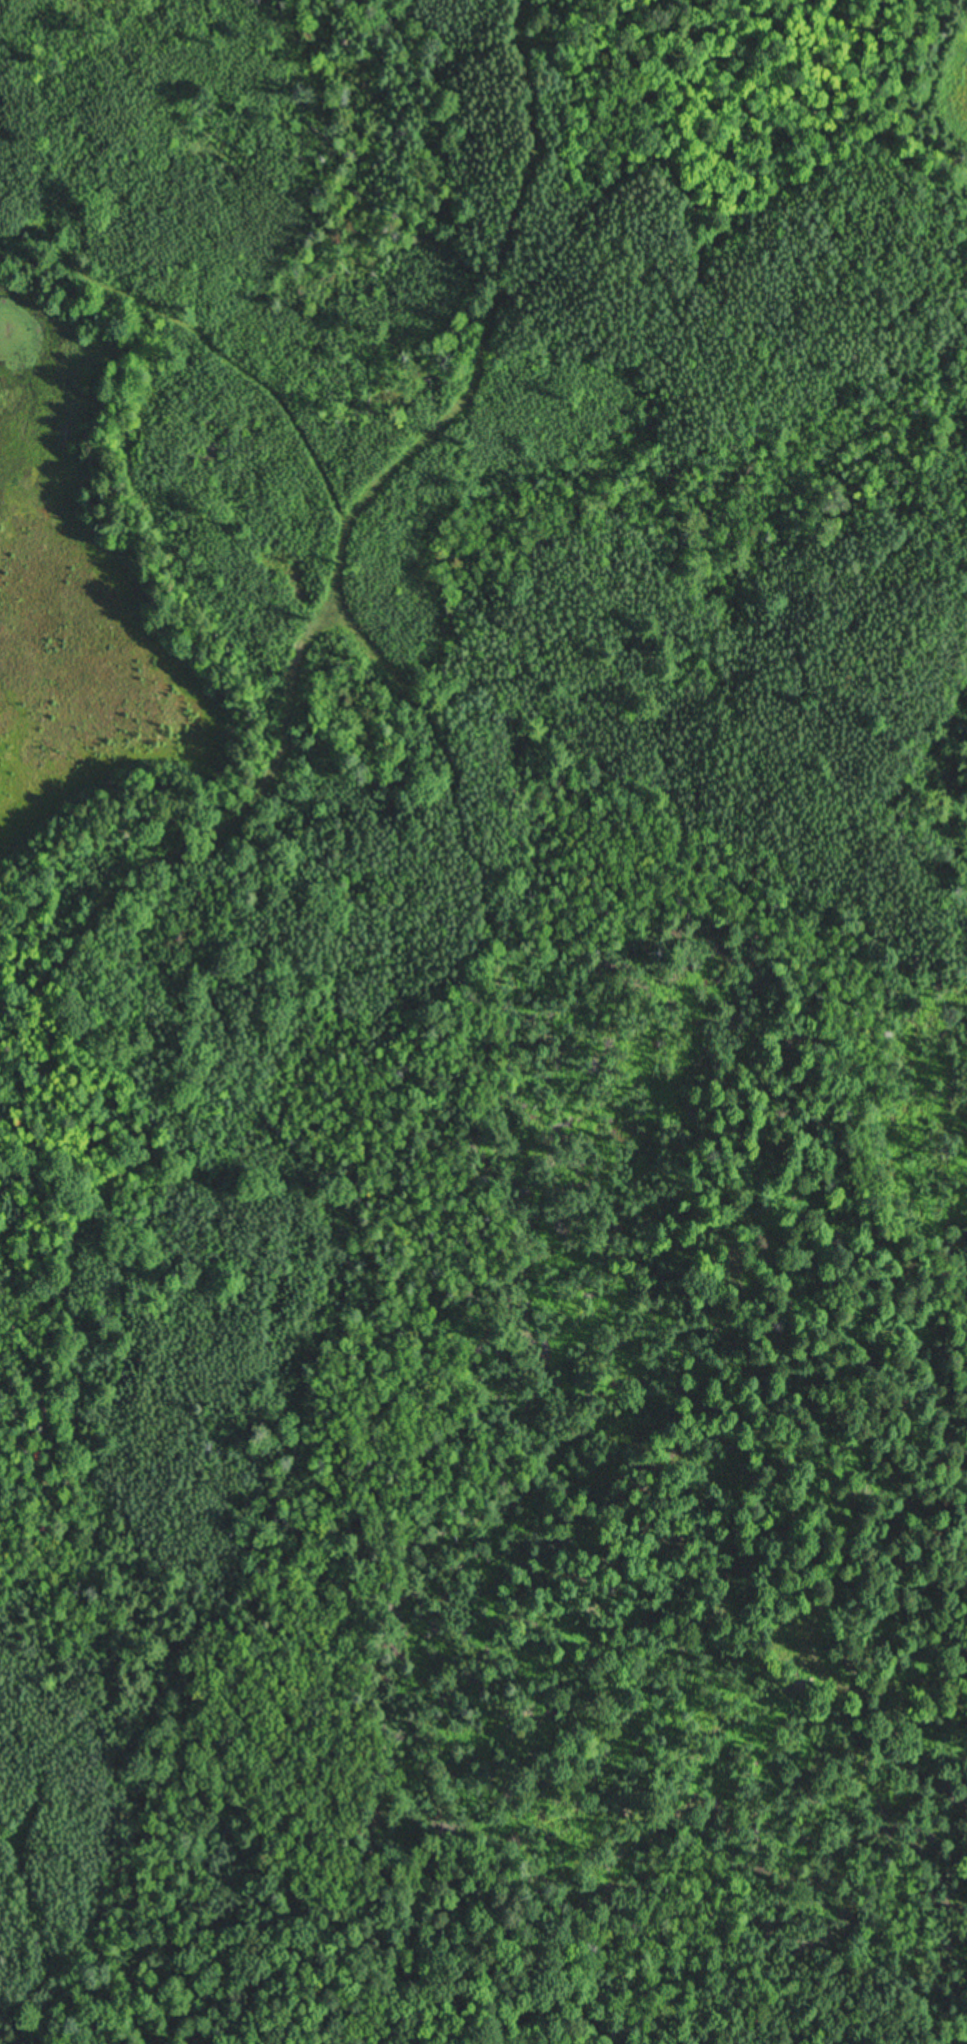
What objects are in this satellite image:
road: (337, 1952)

